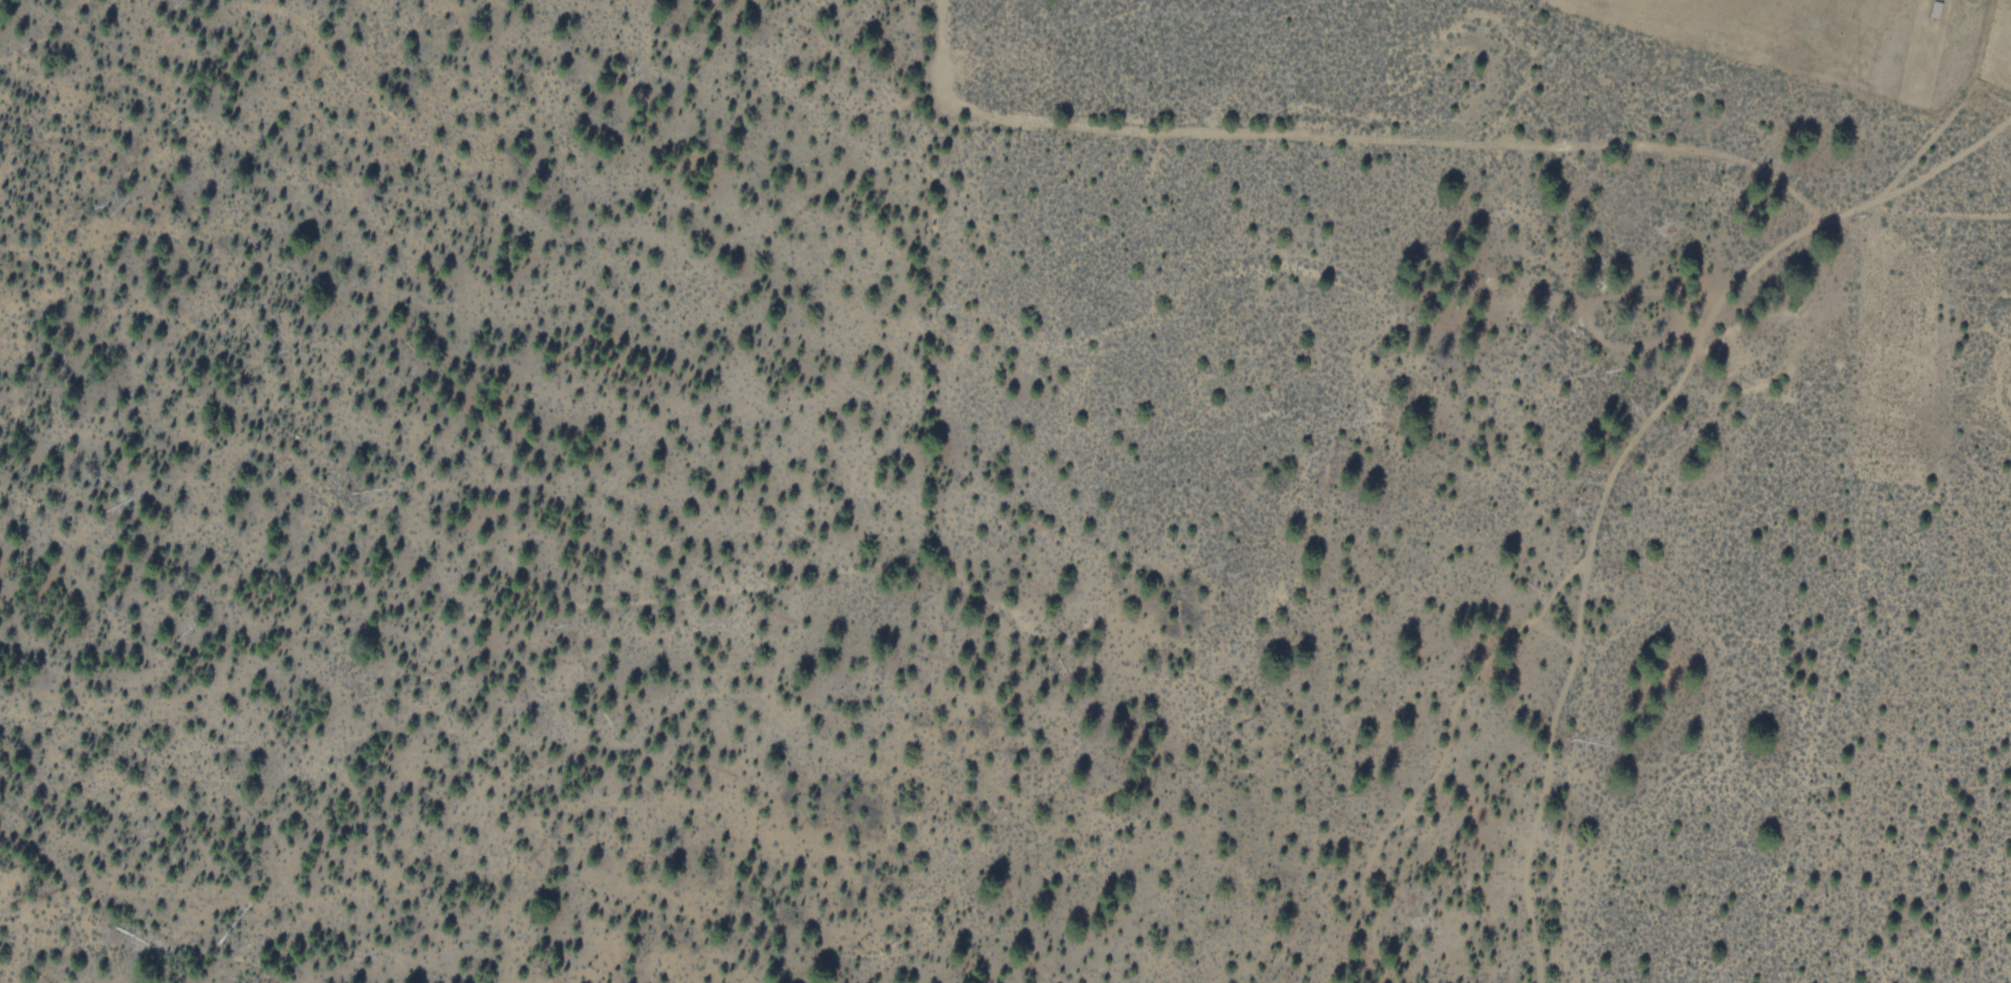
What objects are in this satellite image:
road: (1932, 173)
road: (1770, 251)
road: (1572, 634)

